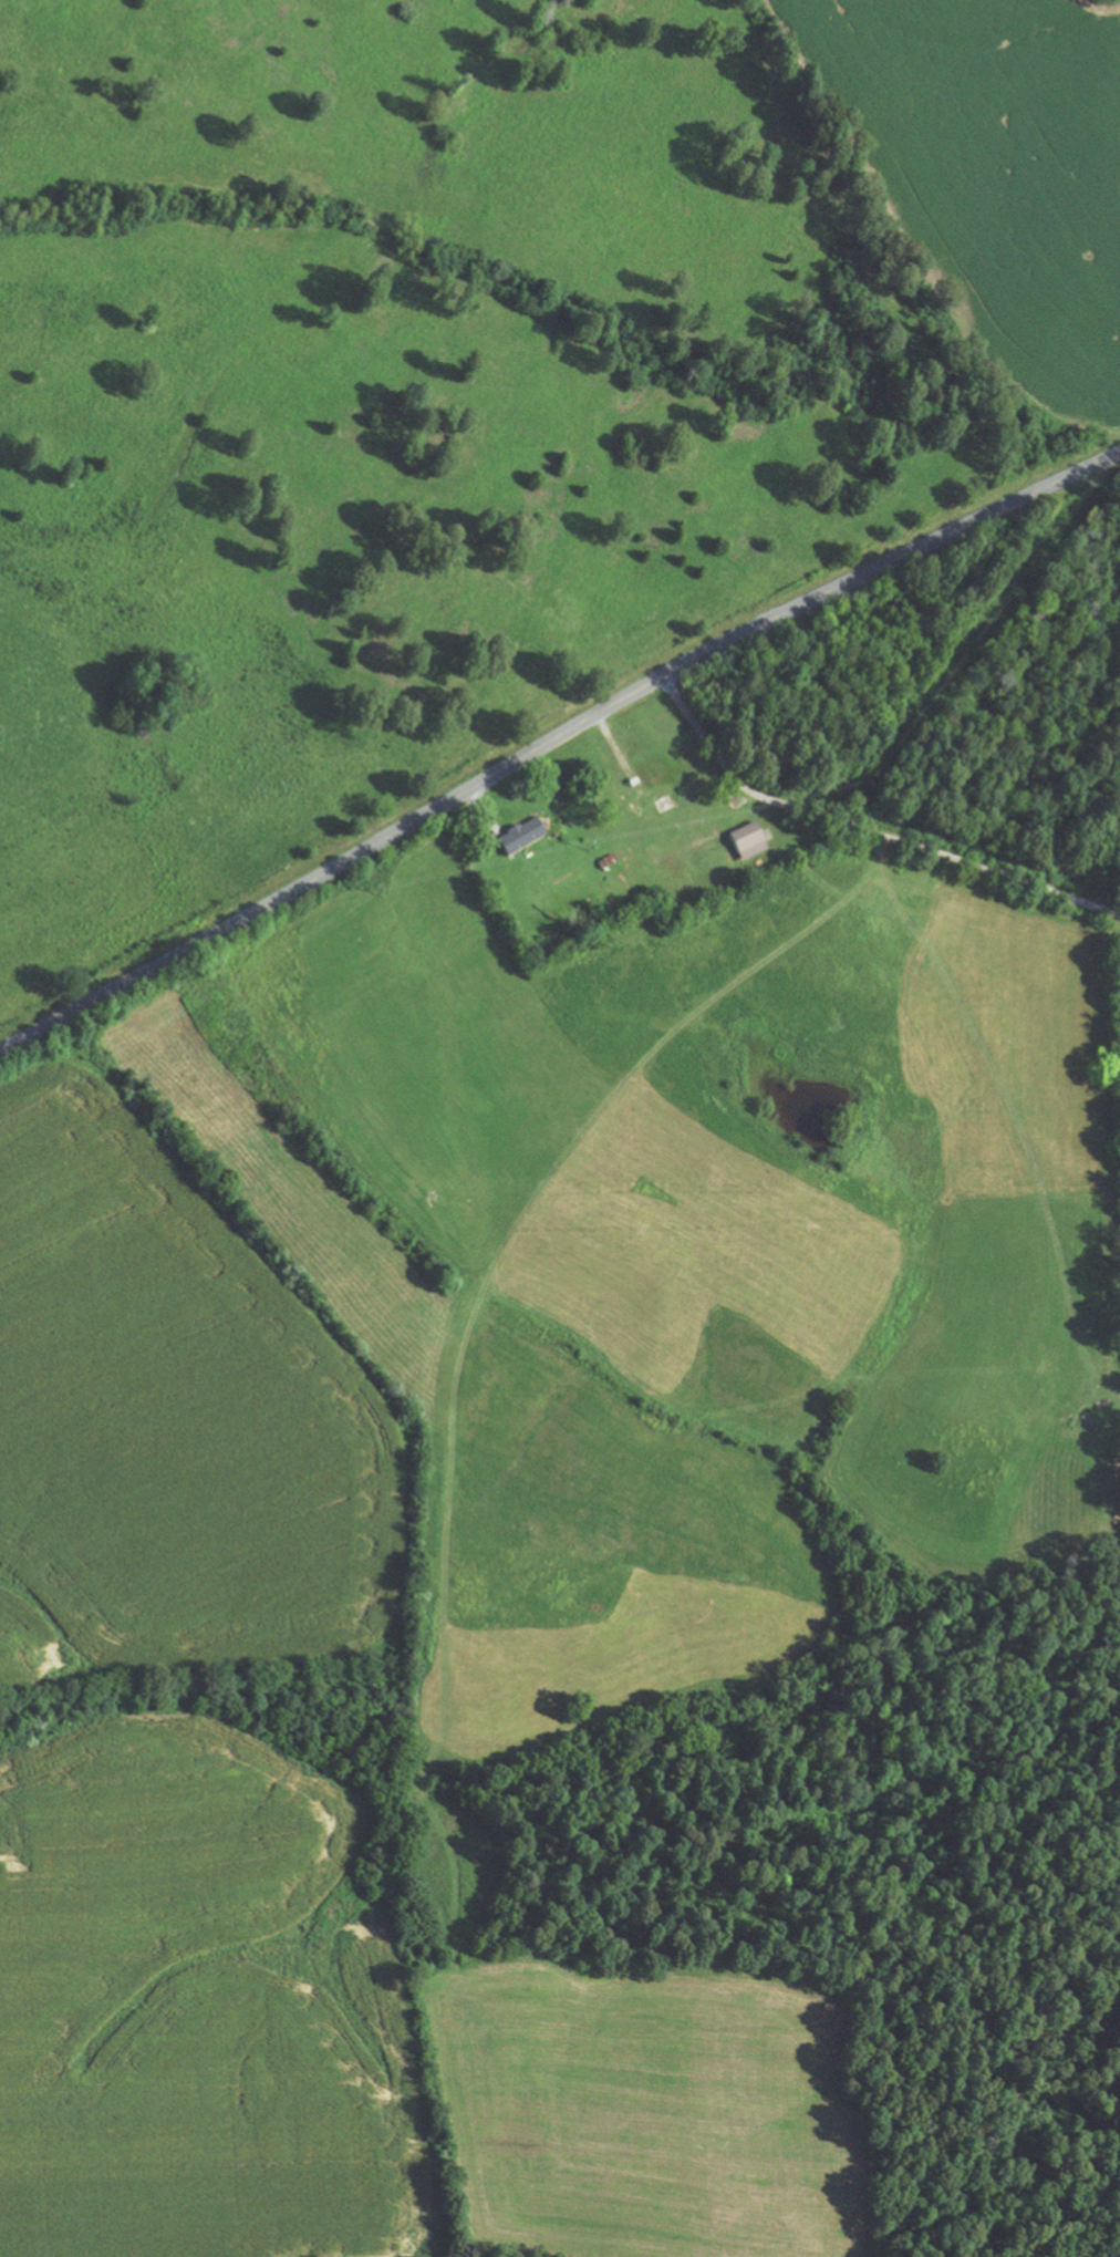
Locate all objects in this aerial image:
building: (1028, 625)
road: (553, 739)
building: (649, 798)
building: (518, 839)
building: (745, 843)

